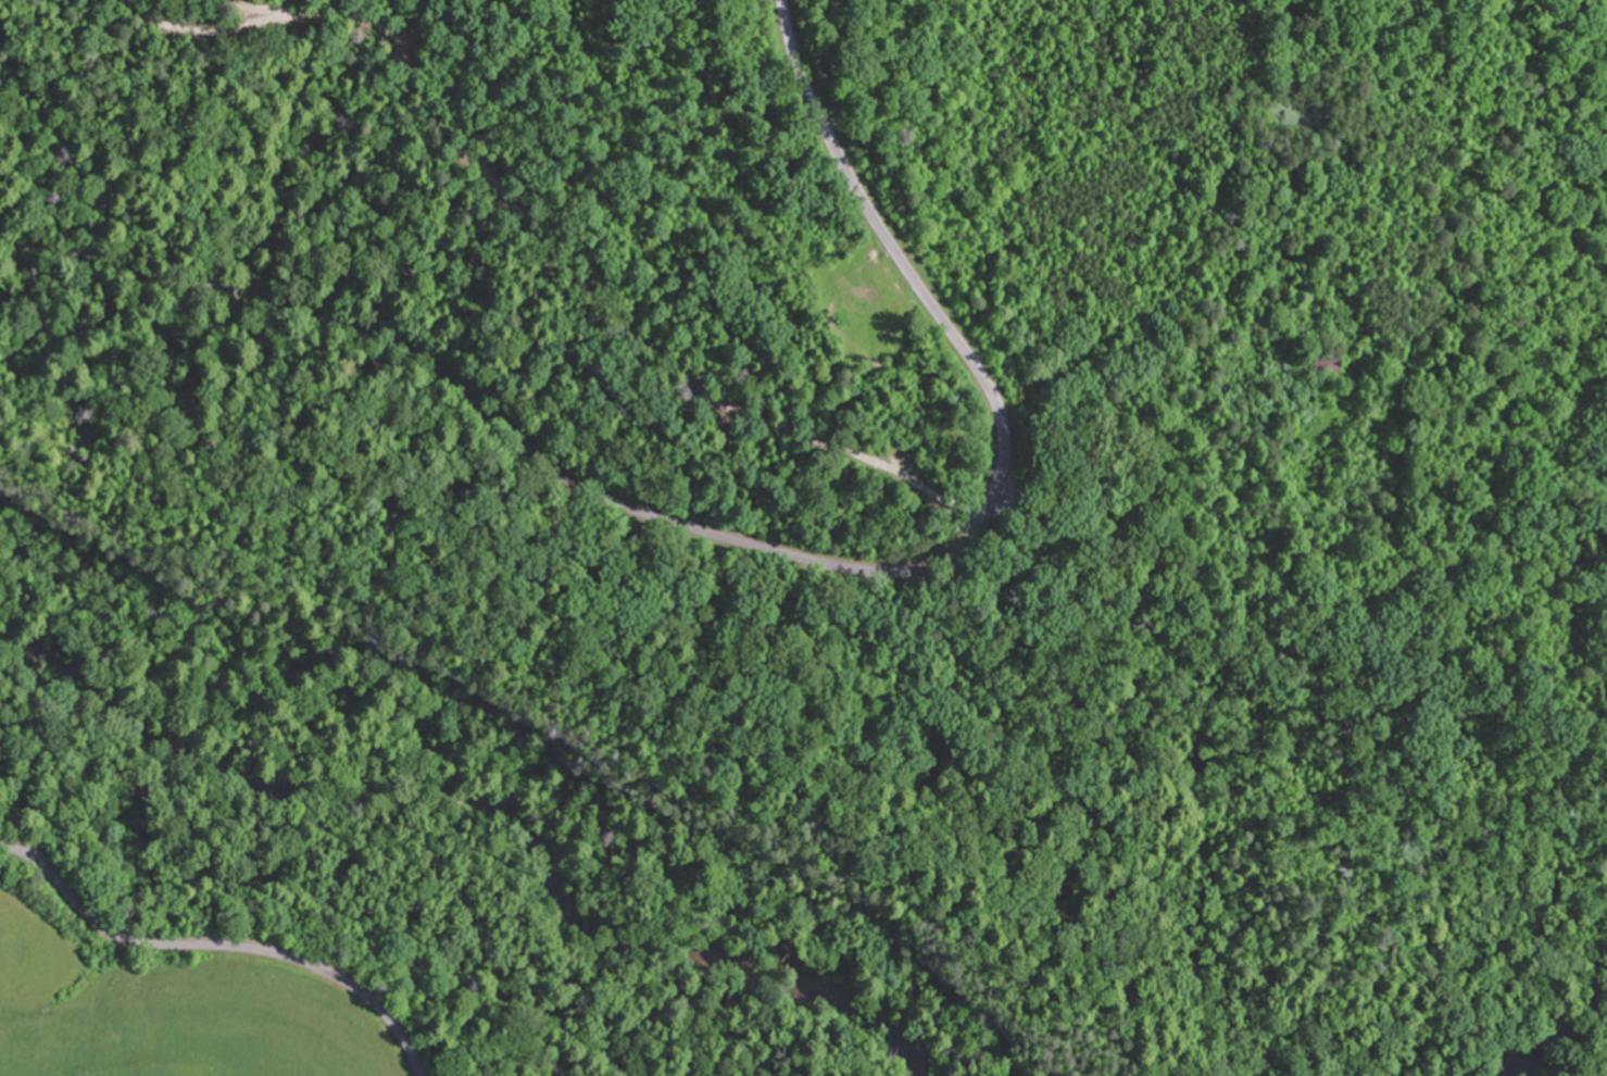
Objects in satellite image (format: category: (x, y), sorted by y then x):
road: (745, 534)
road: (217, 947)

